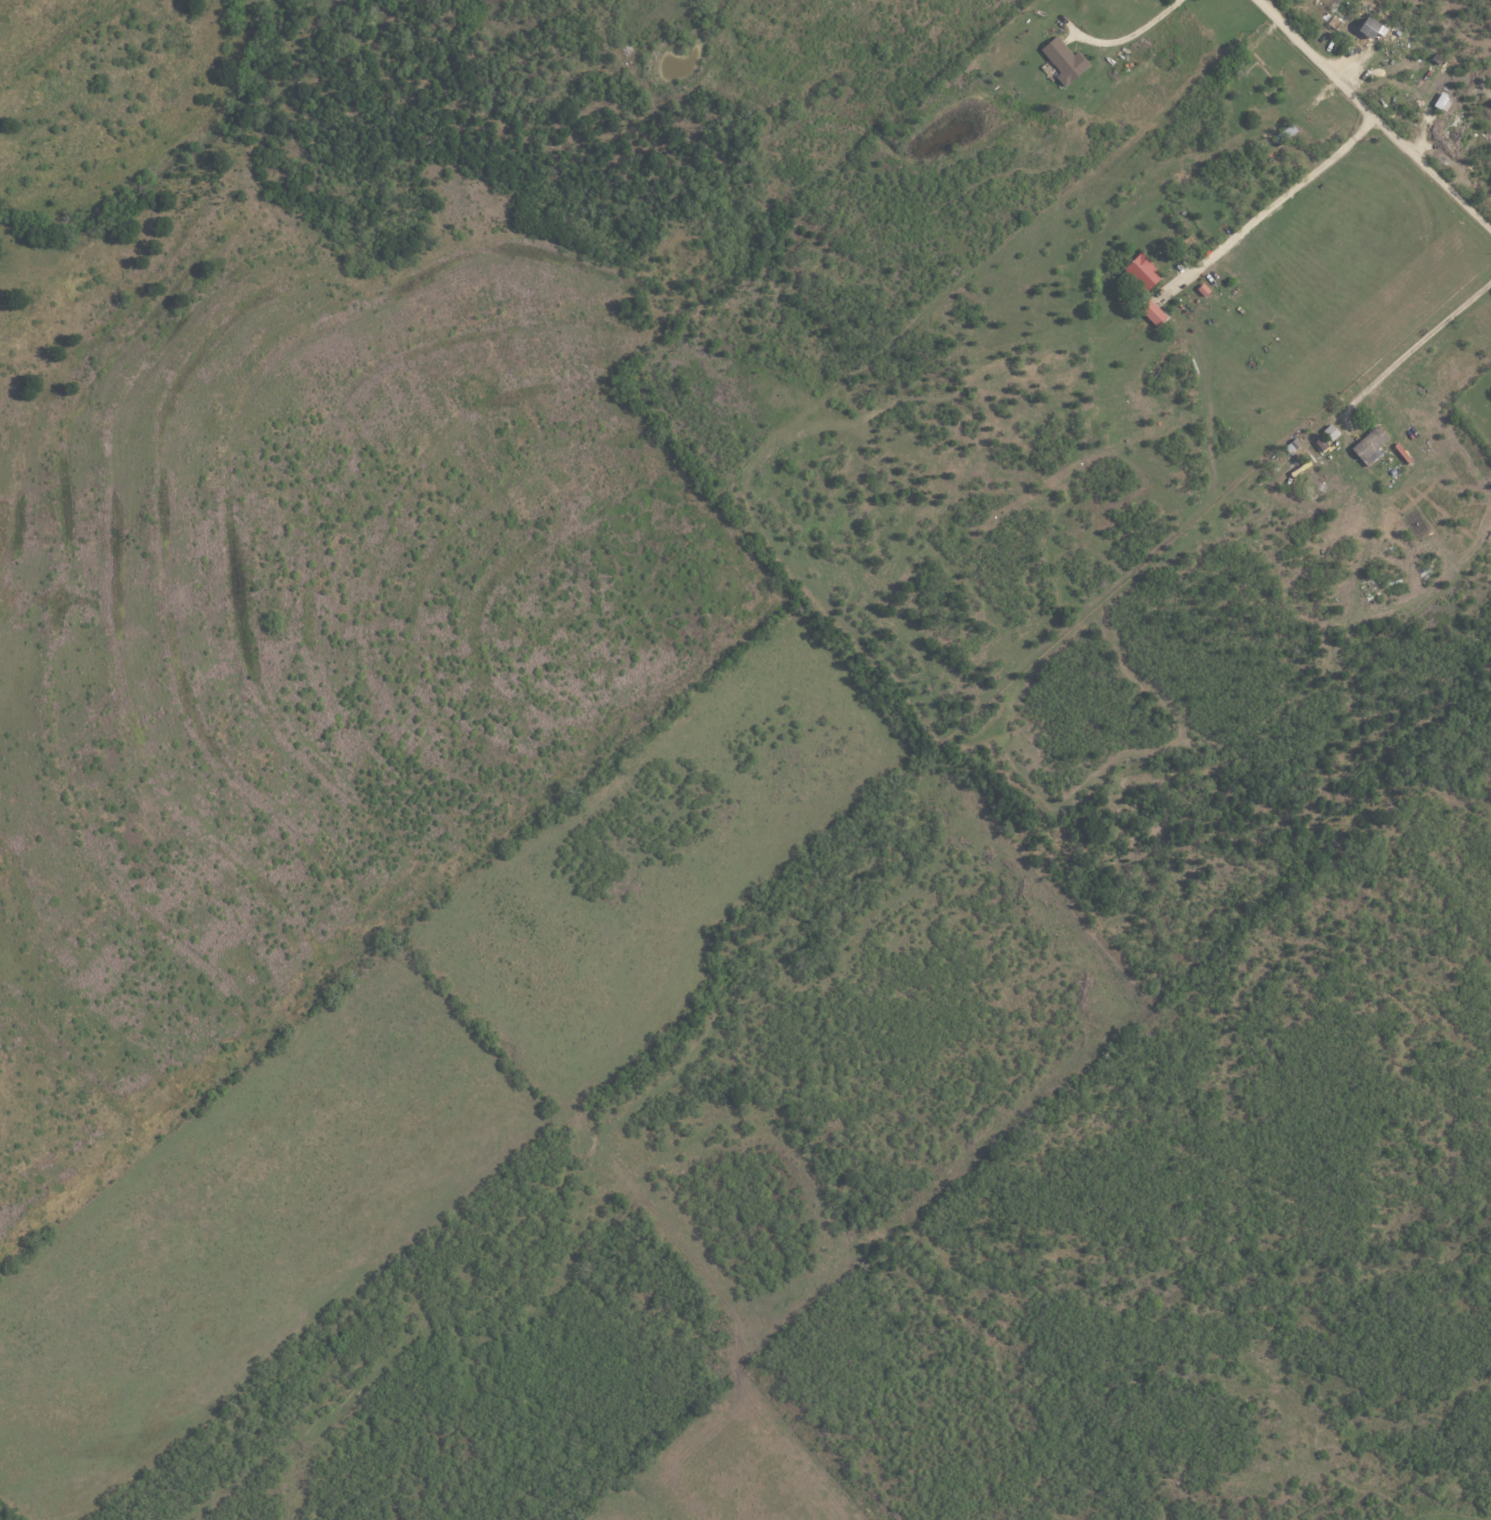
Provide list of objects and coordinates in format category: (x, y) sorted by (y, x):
building: (1369, 29)
road: (1131, 31)
building: (1064, 60)
road: (1374, 116)
road: (1276, 203)
building: (1143, 272)
building: (1152, 312)
road: (1431, 333)
road: (1350, 428)
building: (1370, 445)

